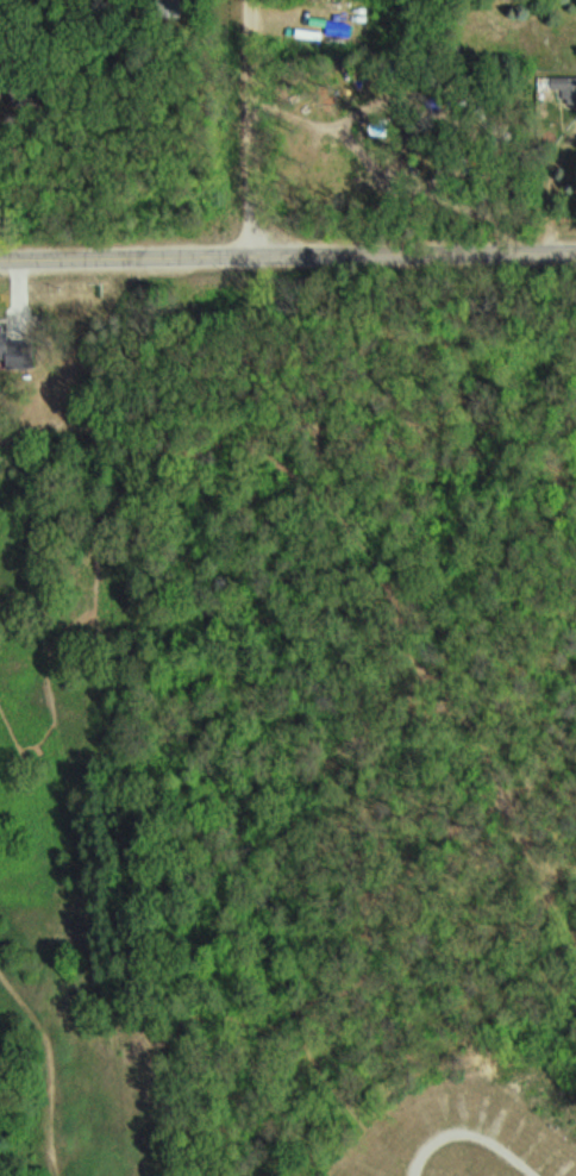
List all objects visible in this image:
building: (566, 87)
road: (258, 129)
road: (287, 257)
building: (0, 346)
park: (287, 805)

